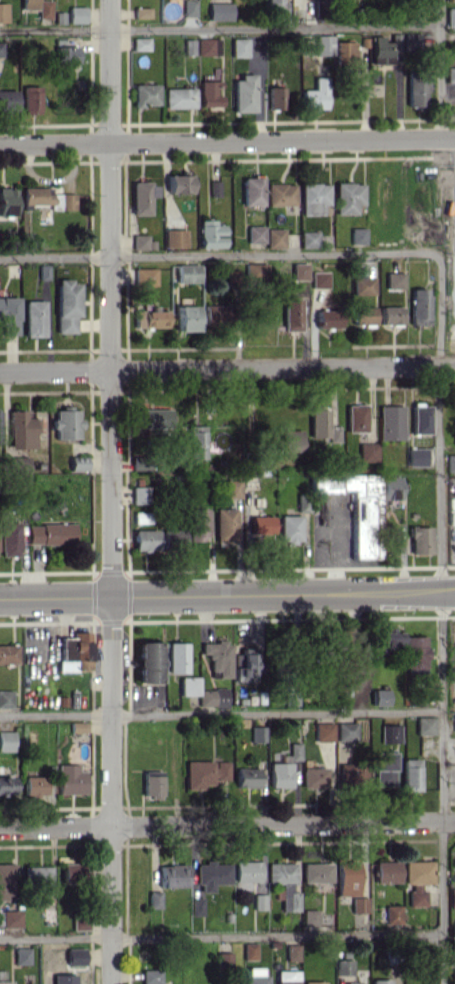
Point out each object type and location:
building: (29, 4)
building: (189, 7)
building: (44, 8)
building: (219, 11)
building: (3, 12)
building: (141, 12)
building: (77, 14)
building: (450, 16)
road: (220, 27)
building: (410, 41)
building: (141, 43)
building: (323, 44)
building: (208, 46)
building: (239, 47)
building: (383, 47)
building: (1, 48)
building: (344, 49)
building: (66, 55)
road: (440, 68)
building: (450, 74)
building: (417, 90)
building: (208, 92)
building: (243, 93)
building: (146, 94)
building: (315, 95)
building: (179, 97)
building: (276, 97)
building: (8, 99)
building: (31, 99)
road: (227, 140)
building: (179, 183)
building: (215, 188)
building: (252, 190)
building: (280, 194)
building: (36, 195)
building: (142, 197)
building: (314, 197)
building: (347, 197)
building: (7, 201)
building: (68, 201)
building: (255, 233)
building: (210, 234)
building: (358, 235)
building: (174, 238)
building: (275, 238)
building: (309, 239)
building: (141, 241)
road: (212, 255)
building: (255, 271)
building: (299, 271)
building: (187, 272)
building: (145, 276)
building: (320, 279)
building: (395, 279)
building: (364, 285)
building: (67, 305)
building: (419, 306)
building: (292, 314)
building: (391, 314)
building: (9, 315)
building: (214, 315)
building: (364, 315)
building: (150, 317)
building: (187, 317)
building: (35, 318)
building: (329, 318)
road: (227, 367)
building: (154, 417)
building: (356, 417)
building: (420, 418)
building: (391, 422)
building: (66, 424)
building: (322, 424)
building: (21, 429)
building: (290, 440)
building: (196, 441)
building: (368, 451)
building: (416, 456)
building: (450, 462)
building: (78, 463)
building: (18, 465)
building: (233, 486)
building: (390, 487)
road: (110, 492)
building: (140, 494)
building: (302, 502)
building: (357, 508)
building: (198, 524)
building: (261, 524)
building: (225, 525)
building: (289, 528)
building: (50, 533)
building: (173, 537)
building: (9, 538)
building: (145, 539)
building: (420, 539)
road: (227, 595)
road: (440, 613)
building: (389, 640)
building: (75, 651)
building: (8, 653)
building: (416, 654)
building: (176, 657)
building: (218, 657)
building: (147, 662)
building: (245, 664)
building: (202, 692)
building: (380, 696)
building: (5, 698)
road: (221, 713)
building: (454, 721)
building: (425, 725)
building: (78, 726)
building: (324, 731)
building: (346, 731)
building: (257, 733)
building: (390, 733)
building: (6, 740)
building: (294, 751)
building: (384, 768)
building: (204, 773)
building: (350, 773)
building: (280, 774)
building: (410, 774)
building: (247, 777)
building: (313, 777)
building: (71, 779)
building: (6, 784)
building: (152, 784)
building: (34, 785)
road: (227, 822)
building: (386, 871)
building: (316, 872)
building: (71, 873)
building: (211, 874)
building: (247, 874)
building: (172, 875)
building: (37, 876)
building: (348, 878)
building: (417, 879)
building: (5, 881)
building: (285, 883)
building: (452, 897)
building: (154, 899)
building: (359, 904)
building: (196, 906)
building: (393, 914)
building: (310, 917)
building: (10, 918)
building: (80, 924)
road: (221, 935)
building: (249, 951)
building: (292, 952)
building: (21, 955)
building: (75, 956)
building: (344, 966)
building: (255, 975)
building: (150, 976)
building: (287, 977)
building: (63, 979)
building: (380, 981)
building: (5, 982)
building: (313, 982)
building: (353, 982)

